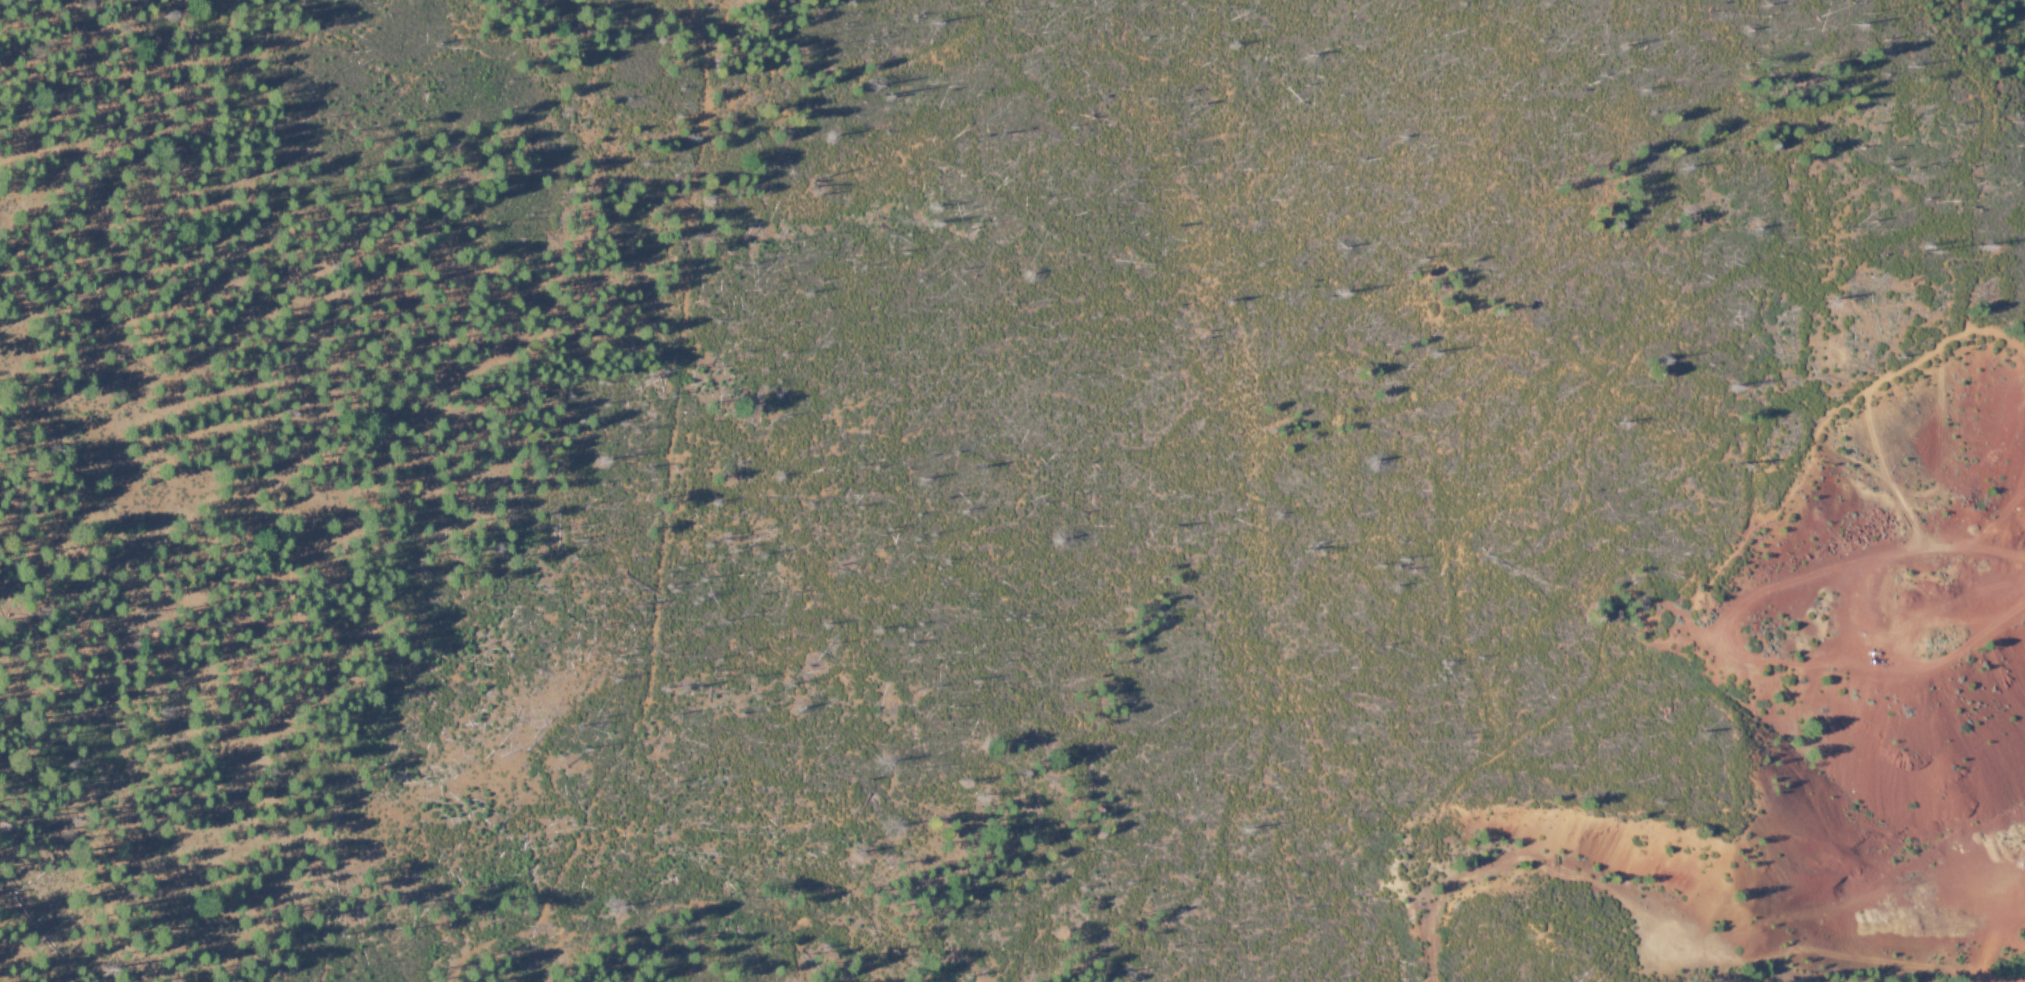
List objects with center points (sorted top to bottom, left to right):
road: (2017, 587)
road: (1990, 950)

